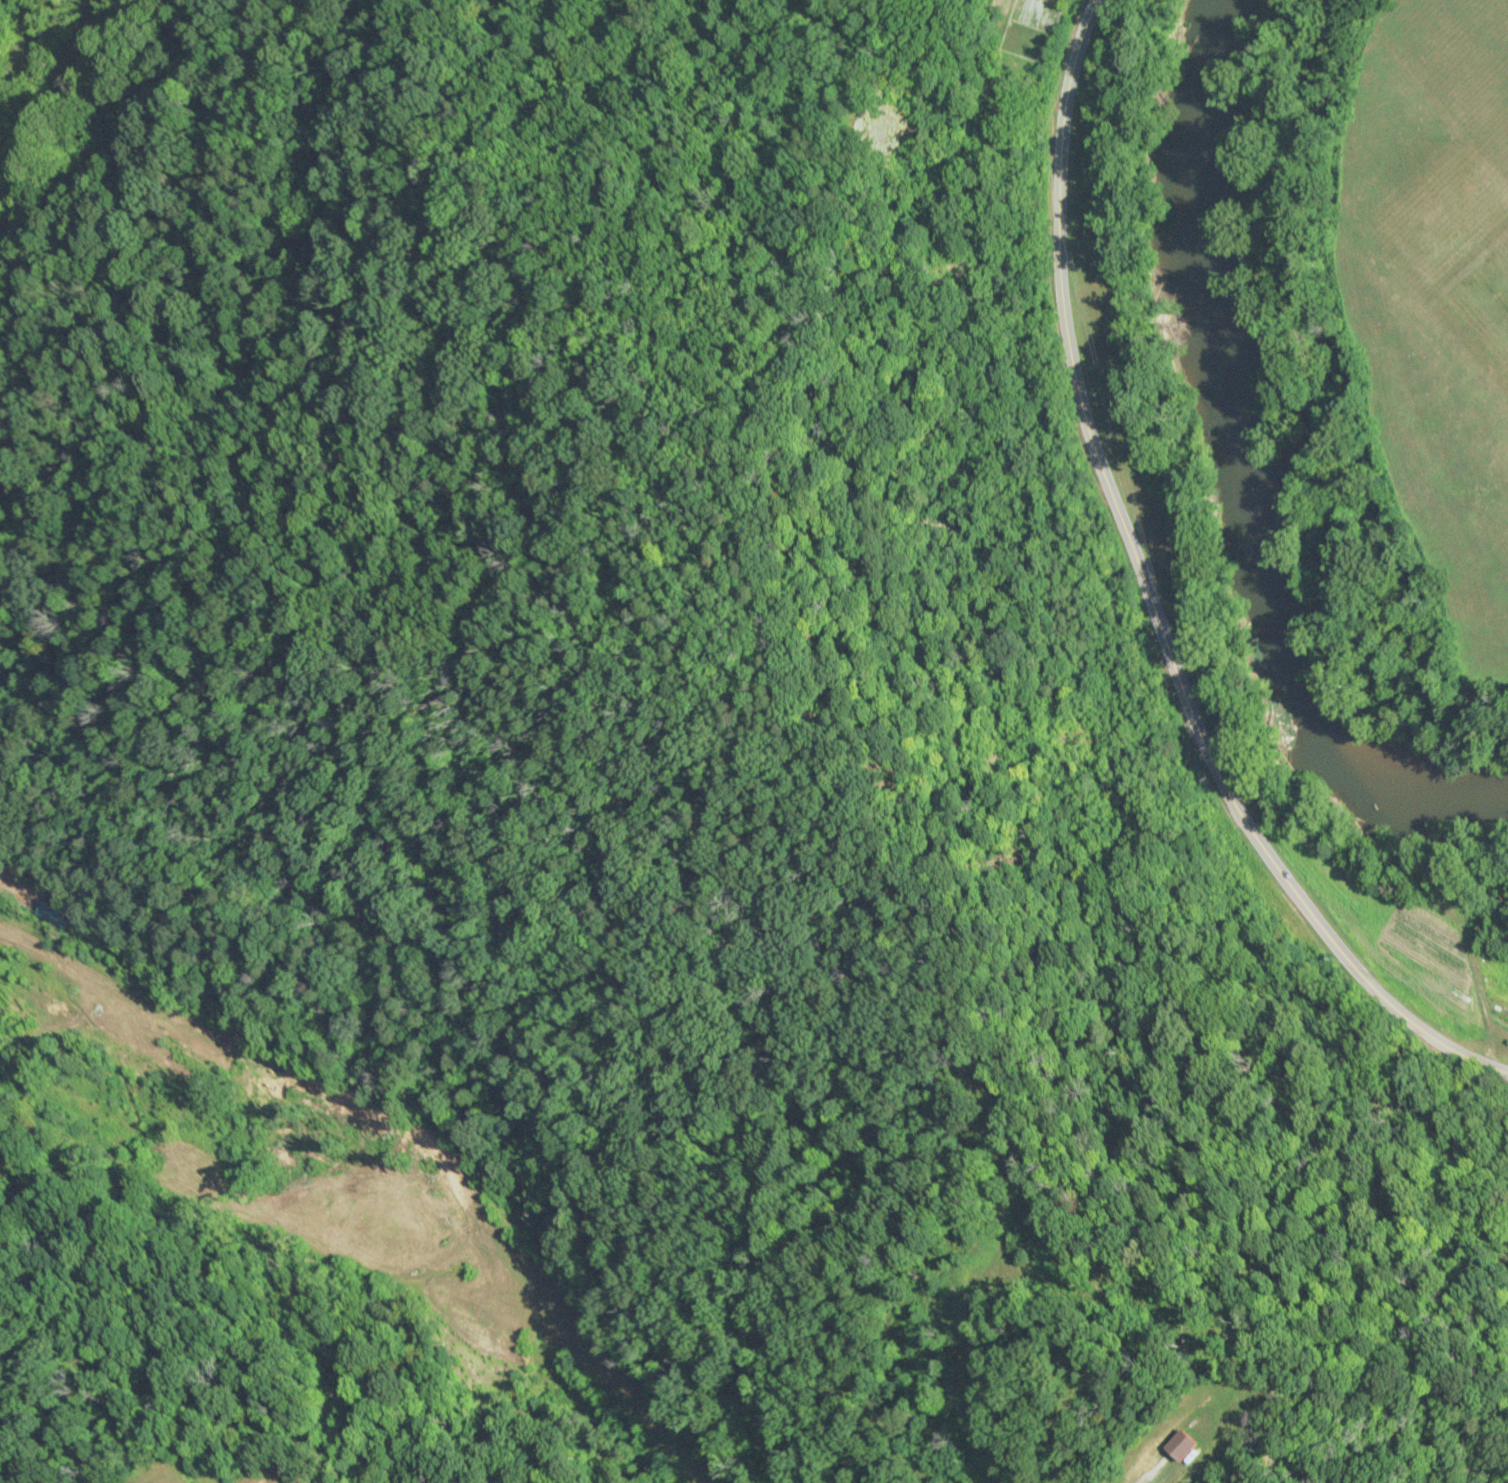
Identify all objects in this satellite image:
river: (83, 121)
park: (1390, 347)
road: (1305, 420)
river: (1246, 462)
road: (1146, 596)
building: (1181, 1445)

